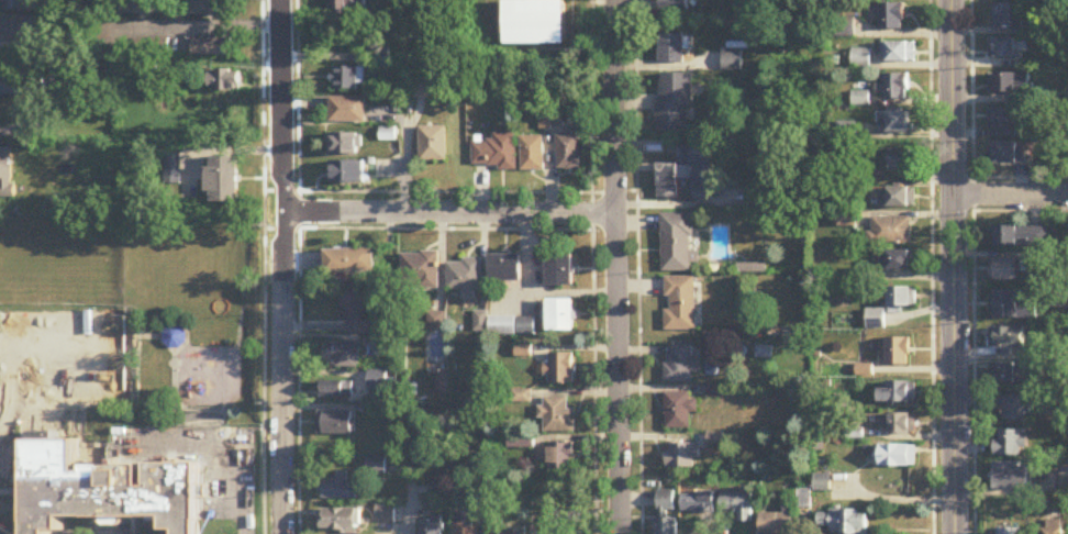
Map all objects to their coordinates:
building: (19, 5)
building: (677, 5)
building: (143, 8)
building: (211, 8)
building: (352, 9)
building: (892, 18)
building: (1012, 18)
road: (1066, 18)
building: (535, 24)
road: (198, 26)
building: (18, 30)
building: (212, 48)
building: (152, 49)
building: (672, 49)
building: (1002, 49)
building: (899, 54)
building: (380, 59)
building: (349, 79)
building: (223, 81)
building: (24, 86)
building: (1009, 86)
building: (894, 88)
building: (676, 104)
building: (347, 111)
building: (1002, 120)
building: (894, 123)
building: (345, 145)
building: (434, 145)
building: (498, 154)
building: (534, 155)
building: (571, 155)
building: (1006, 155)
building: (900, 160)
building: (347, 174)
building: (5, 175)
building: (689, 176)
building: (224, 181)
road: (1011, 198)
building: (898, 199)
road: (677, 203)
road: (450, 213)
building: (847, 221)
building: (891, 231)
building: (1021, 237)
building: (678, 244)
building: (348, 262)
building: (895, 262)
road: (285, 266)
road: (618, 267)
road: (954, 267)
building: (505, 269)
building: (1004, 270)
building: (421, 271)
building: (560, 271)
building: (466, 279)
building: (900, 298)
building: (680, 305)
building: (1015, 305)
building: (560, 316)
building: (359, 318)
road: (182, 319)
building: (876, 320)
building: (503, 327)
building: (526, 327)
building: (173, 331)
building: (1006, 338)
park: (135, 343)
building: (385, 347)
building: (898, 353)
building: (343, 355)
building: (680, 367)
building: (561, 370)
building: (1012, 375)
road: (108, 391)
building: (336, 392)
building: (898, 394)
road: (181, 403)
building: (1013, 409)
building: (679, 412)
building: (557, 418)
building: (336, 424)
building: (902, 426)
road: (19, 435)
road: (231, 436)
building: (521, 445)
building: (1010, 445)
road: (81, 446)
building: (560, 457)
building: (681, 458)
building: (894, 458)
building: (377, 466)
building: (1013, 479)
road: (9, 487)
building: (341, 489)
building: (104, 497)
building: (666, 503)
road: (409, 504)
building: (697, 504)
building: (738, 507)
building: (385, 514)
building: (469, 521)
building: (343, 522)
building: (846, 523)
building: (777, 524)
building: (666, 527)
building: (1053, 527)
building: (430, 529)
building: (1006, 532)

